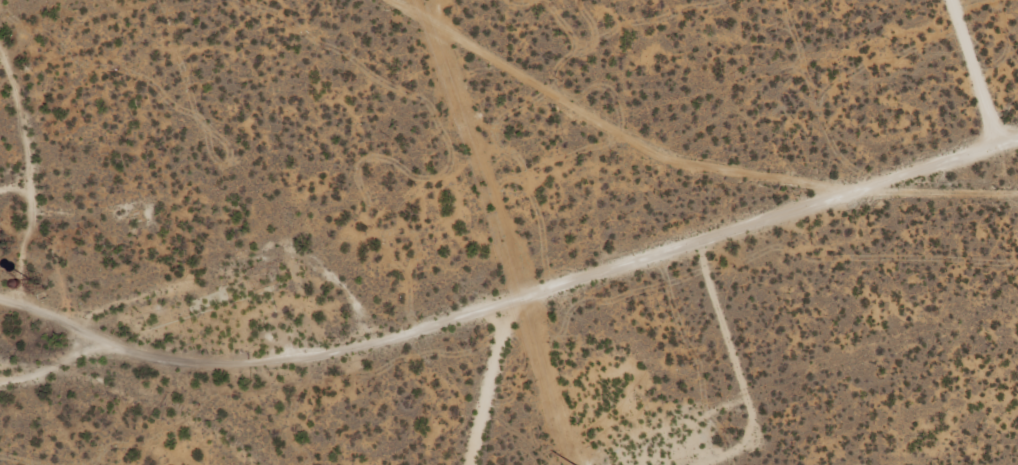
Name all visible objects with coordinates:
road: (1, 124)
road: (515, 294)
road: (12, 308)

